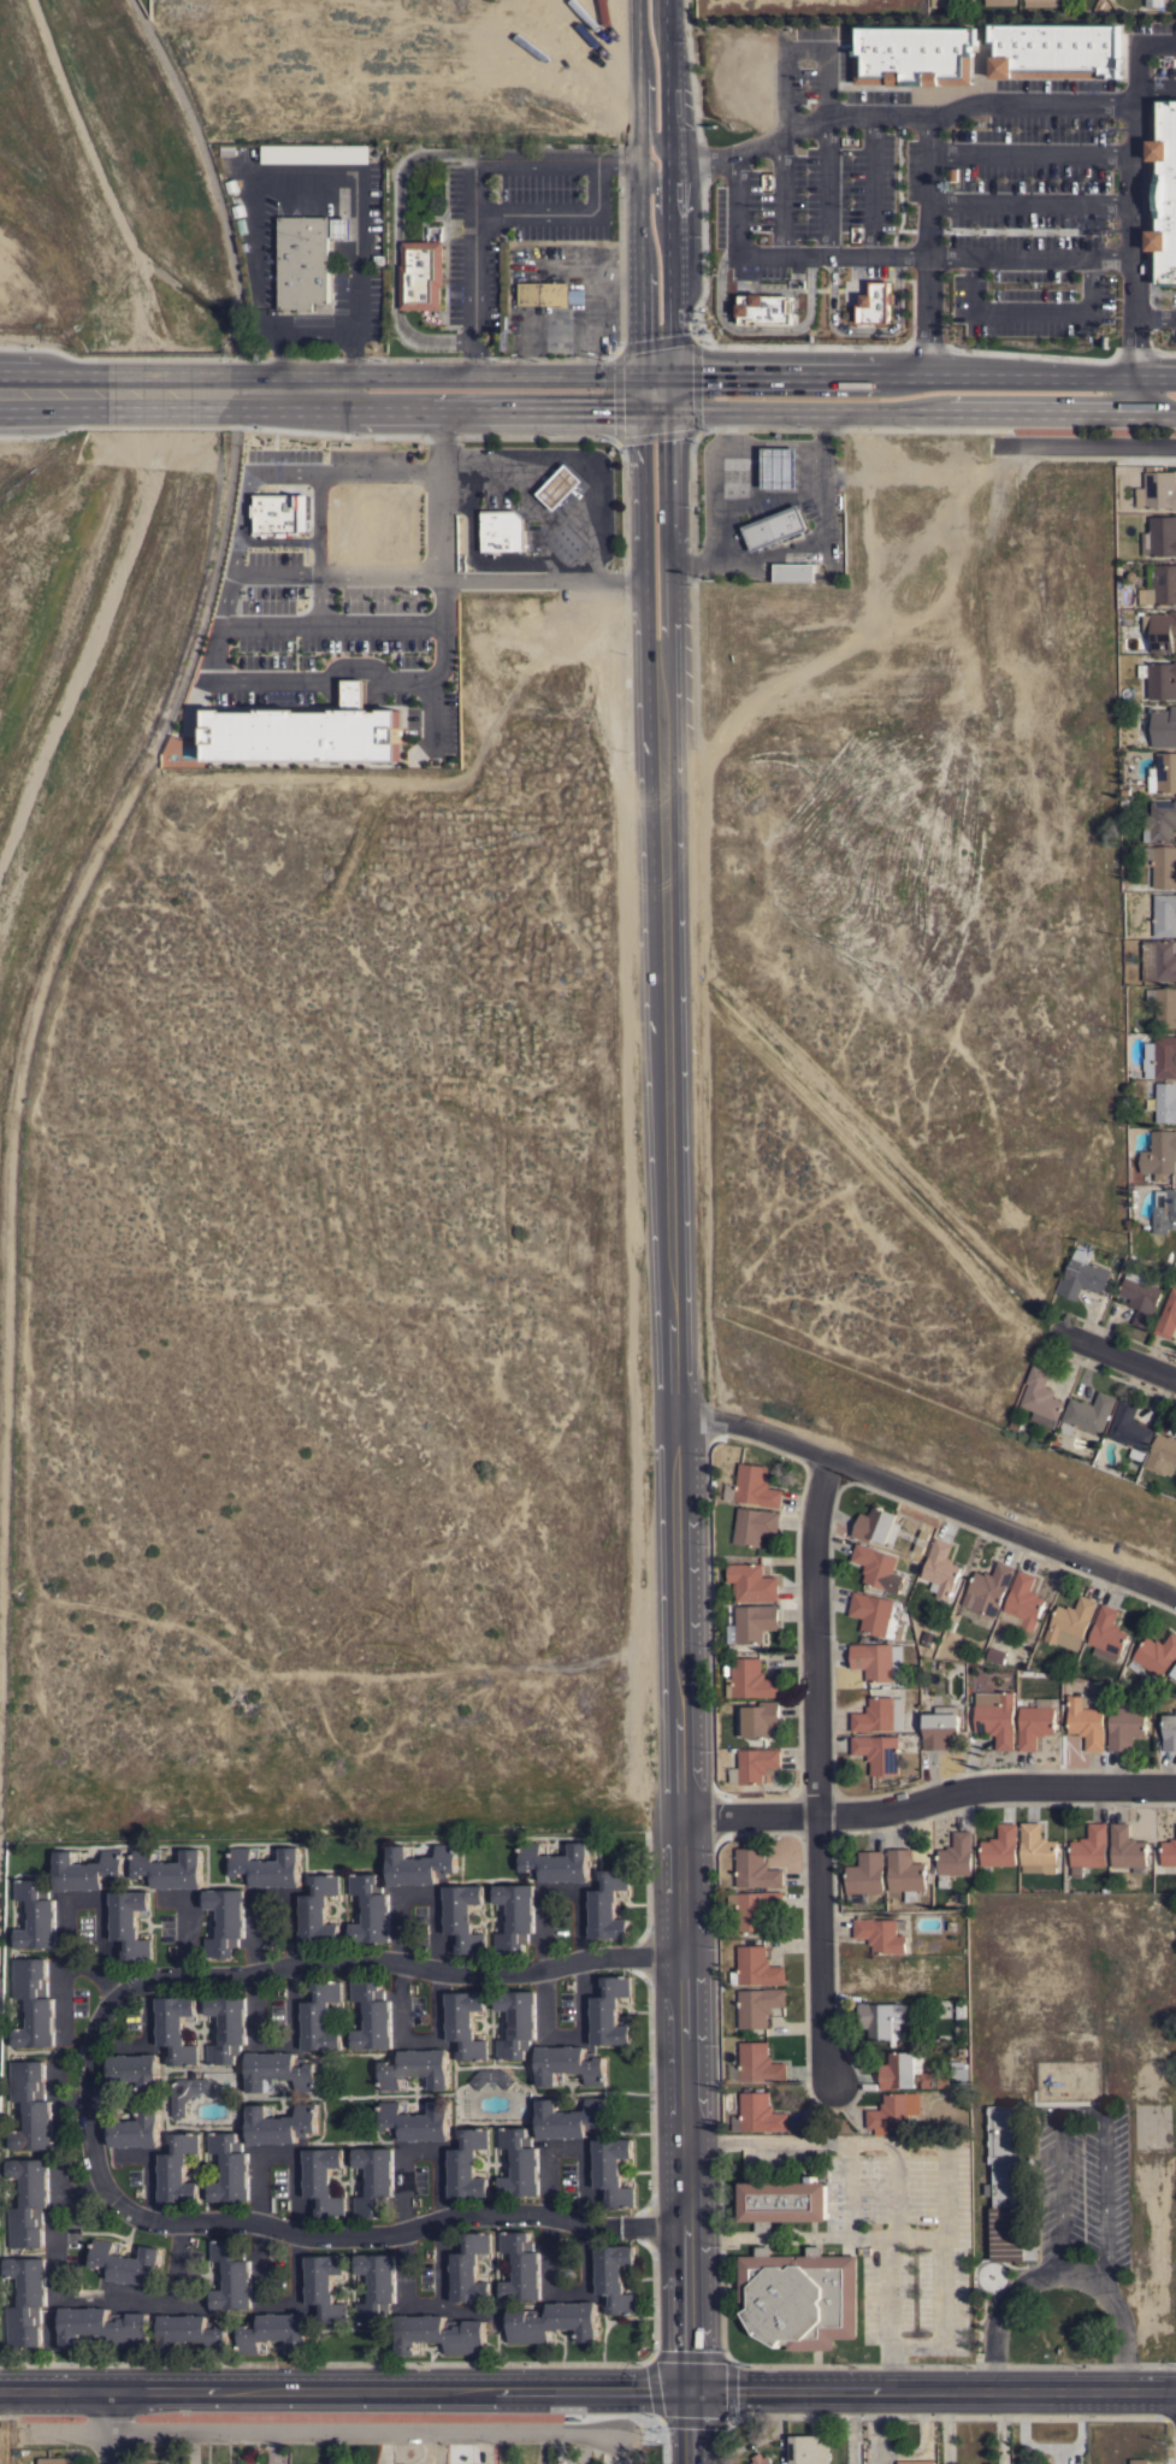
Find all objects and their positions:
building: (998, 1)
building: (938, 2)
building: (1041, 2)
building: (1153, 2)
building: (1057, 49)
building: (915, 54)
road: (1156, 89)
road: (905, 116)
road: (805, 123)
building: (315, 153)
road: (1028, 155)
road: (633, 158)
road: (510, 165)
road: (208, 167)
road: (1130, 170)
road: (400, 182)
road: (827, 184)
road: (870, 184)
road: (927, 184)
parking lot: (949, 190)
road: (781, 193)
building: (1163, 193)
road: (660, 194)
road: (1029, 202)
road: (498, 216)
parking lot: (512, 224)
building: (342, 228)
road: (745, 253)
road: (1029, 253)
building: (301, 264)
building: (421, 273)
building: (546, 291)
building: (875, 303)
building: (766, 310)
road: (1030, 312)
road: (923, 314)
road: (1154, 316)
road: (761, 329)
road: (863, 330)
road: (1134, 332)
road: (658, 341)
road: (473, 367)
road: (804, 373)
road: (1047, 378)
traffic signals: (657, 389)
road: (676, 389)
road: (548, 391)
road: (40, 394)
road: (155, 394)
road: (335, 394)
road: (804, 411)
road: (1048, 413)
road: (650, 434)
road: (1086, 446)
building: (779, 467)
road: (290, 474)
road: (662, 483)
road: (441, 485)
building: (557, 485)
gas station: (560, 487)
road: (318, 490)
building: (1158, 490)
building: (278, 512)
road: (238, 523)
building: (775, 527)
building: (503, 530)
building: (461, 534)
building: (1159, 536)
road: (309, 572)
building: (793, 572)
road: (554, 578)
building: (1159, 584)
building: (1159, 629)
parking lot: (338, 668)
building: (1159, 679)
road: (223, 689)
building: (1164, 727)
building: (302, 735)
building: (1163, 773)
building: (1122, 791)
building: (1159, 821)
building: (1164, 867)
building: (1164, 915)
building: (1158, 960)
road: (36, 997)
building: (1165, 1007)
building: (1160, 1057)
building: (1160, 1100)
building: (1159, 1153)
building: (1164, 1210)
building: (1081, 1275)
building: (1139, 1296)
building: (1166, 1316)
road: (1118, 1356)
building: (1040, 1398)
building: (1087, 1414)
building: (1014, 1423)
building: (1128, 1430)
building: (1162, 1455)
road: (673, 1485)
building: (755, 1486)
road: (924, 1498)
building: (754, 1525)
building: (876, 1526)
building: (921, 1542)
building: (877, 1568)
building: (940, 1568)
building: (751, 1582)
building: (988, 1590)
building: (1022, 1602)
building: (876, 1614)
building: (751, 1623)
building: (1070, 1623)
building: (950, 1625)
building: (1106, 1634)
building: (927, 1638)
building: (995, 1655)
building: (1154, 1655)
building: (877, 1661)
building: (940, 1666)
building: (1172, 1674)
building: (750, 1679)
building: (879, 1714)
building: (995, 1717)
building: (761, 1719)
building: (1086, 1722)
building: (1034, 1725)
building: (1125, 1726)
building: (940, 1727)
building: (1169, 1732)
building: (879, 1752)
building: (755, 1764)
road: (815, 1773)
road: (927, 1800)
building: (1000, 1846)
building: (1038, 1847)
building: (1127, 1847)
building: (1088, 1849)
building: (1169, 1852)
building: (955, 1857)
building: (556, 1862)
building: (420, 1864)
building: (266, 1867)
building: (169, 1869)
building: (755, 1869)
building: (87, 1870)
building: (865, 1873)
building: (905, 1873)
road: (555, 1892)
road: (416, 1893)
road: (265, 1898)
building: (608, 1905)
building: (754, 1908)
building: (370, 1909)
building: (318, 1910)
road: (63, 1912)
building: (37, 1915)
building: (515, 1916)
building: (463, 1917)
building: (225, 1921)
building: (130, 1922)
building: (951, 1924)
building: (881, 1934)
road: (183, 1941)
road: (311, 1962)
building: (756, 1967)
road: (83, 1968)
building: (35, 2003)
building: (757, 2005)
building: (959, 2009)
building: (609, 2011)
building: (372, 2015)
building: (320, 2016)
building: (882, 2021)
road: (146, 2022)
building: (465, 2023)
building: (516, 2023)
building: (227, 2027)
building: (176, 2028)
road: (566, 2036)
road: (414, 2038)
road: (277, 2042)
building: (961, 2050)
building: (758, 2063)
building: (568, 2064)
building: (414, 2068)
building: (900, 2069)
building: (135, 2070)
building: (278, 2070)
building: (958, 2070)
building: (491, 2077)
building: (933, 2079)
building: (185, 2092)
building: (32, 2105)
building: (760, 2112)
building: (888, 2112)
building: (569, 2118)
building: (415, 2121)
building: (279, 2124)
building: (136, 2129)
road: (566, 2146)
road: (416, 2148)
road: (279, 2151)
building: (519, 2163)
building: (467, 2164)
building: (178, 2168)
building: (230, 2168)
road: (887, 2168)
road: (148, 2170)
building: (611, 2170)
building: (323, 2180)
building: (374, 2180)
building: (1006, 2185)
building: (782, 2201)
building: (30, 2203)
road: (376, 2234)
building: (125, 2263)
building: (521, 2266)
building: (469, 2268)
road: (1058, 2274)
building: (231, 2275)
building: (614, 2277)
building: (377, 2286)
building: (325, 2287)
building: (799, 2297)
building: (28, 2300)
building: (551, 2322)
building: (104, 2327)
building: (273, 2332)
building: (190, 2333)
building: (439, 2334)
road: (344, 2391)
traffic signals: (690, 2392)
road: (933, 2392)
road: (111, 2427)
road: (690, 2428)
road: (852, 2428)
road: (949, 2428)
road: (1005, 2428)
road: (319, 2433)
building: (809, 2450)
building: (761, 2459)
building: (54, 2460)
building: (1139, 2460)
building: (915, 2462)

